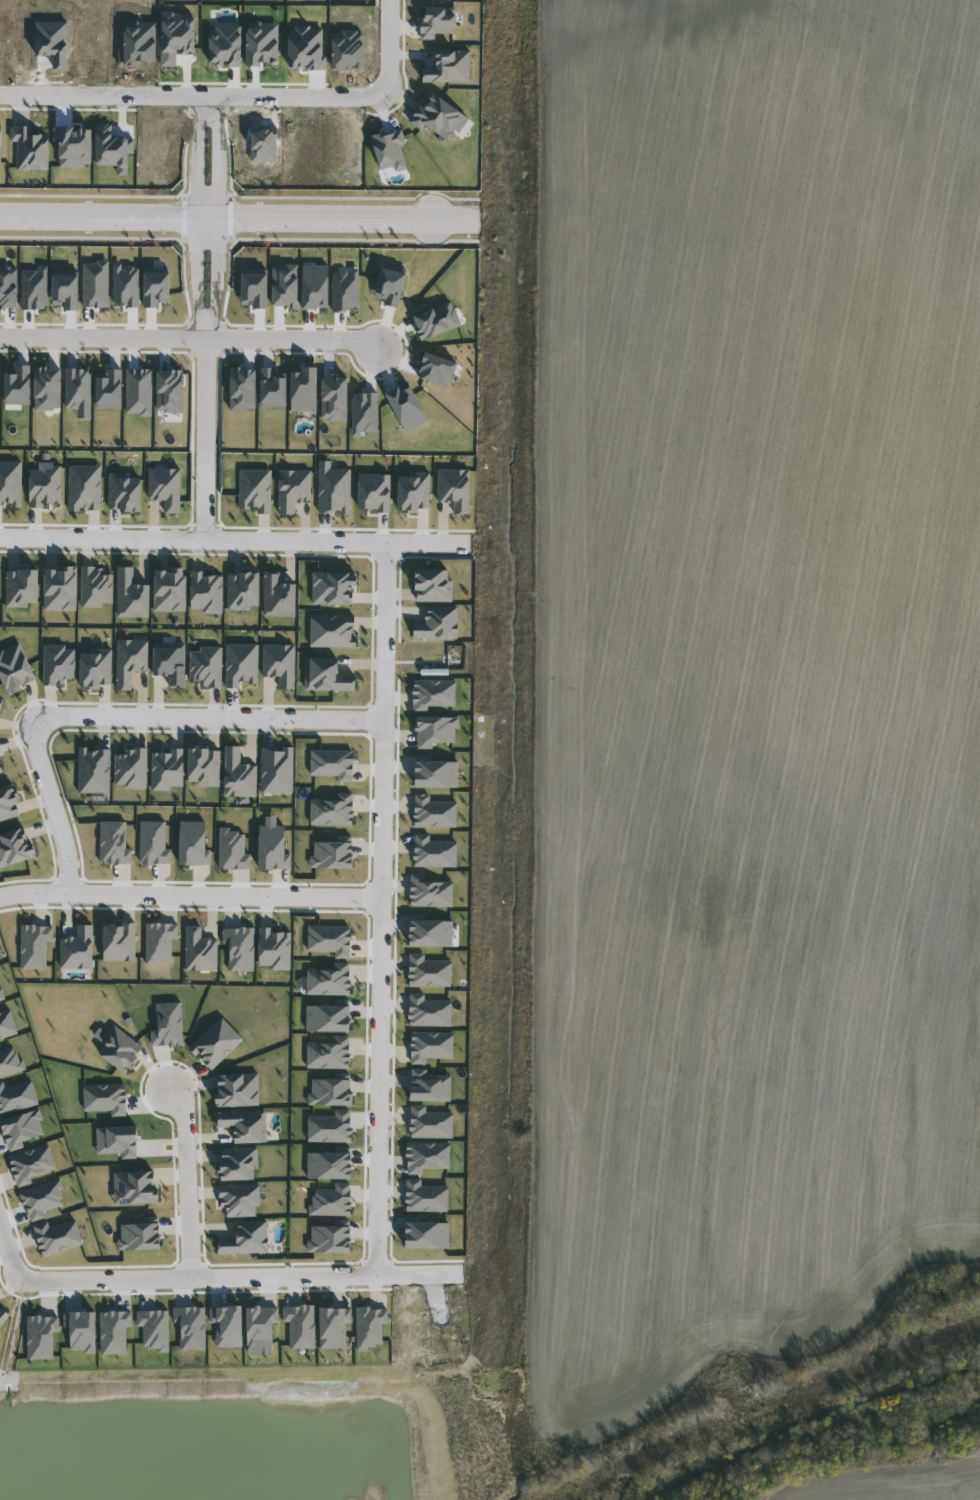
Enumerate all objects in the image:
road: (389, 47)
road: (190, 97)
road: (205, 98)
road: (239, 218)
road: (187, 339)
road: (202, 439)
road: (234, 540)
road: (382, 632)
crop: (736, 683)
road: (206, 718)
road: (56, 807)
road: (33, 894)
road: (224, 895)
road: (380, 999)
road: (188, 1180)
road: (10, 1246)
road: (232, 1277)

